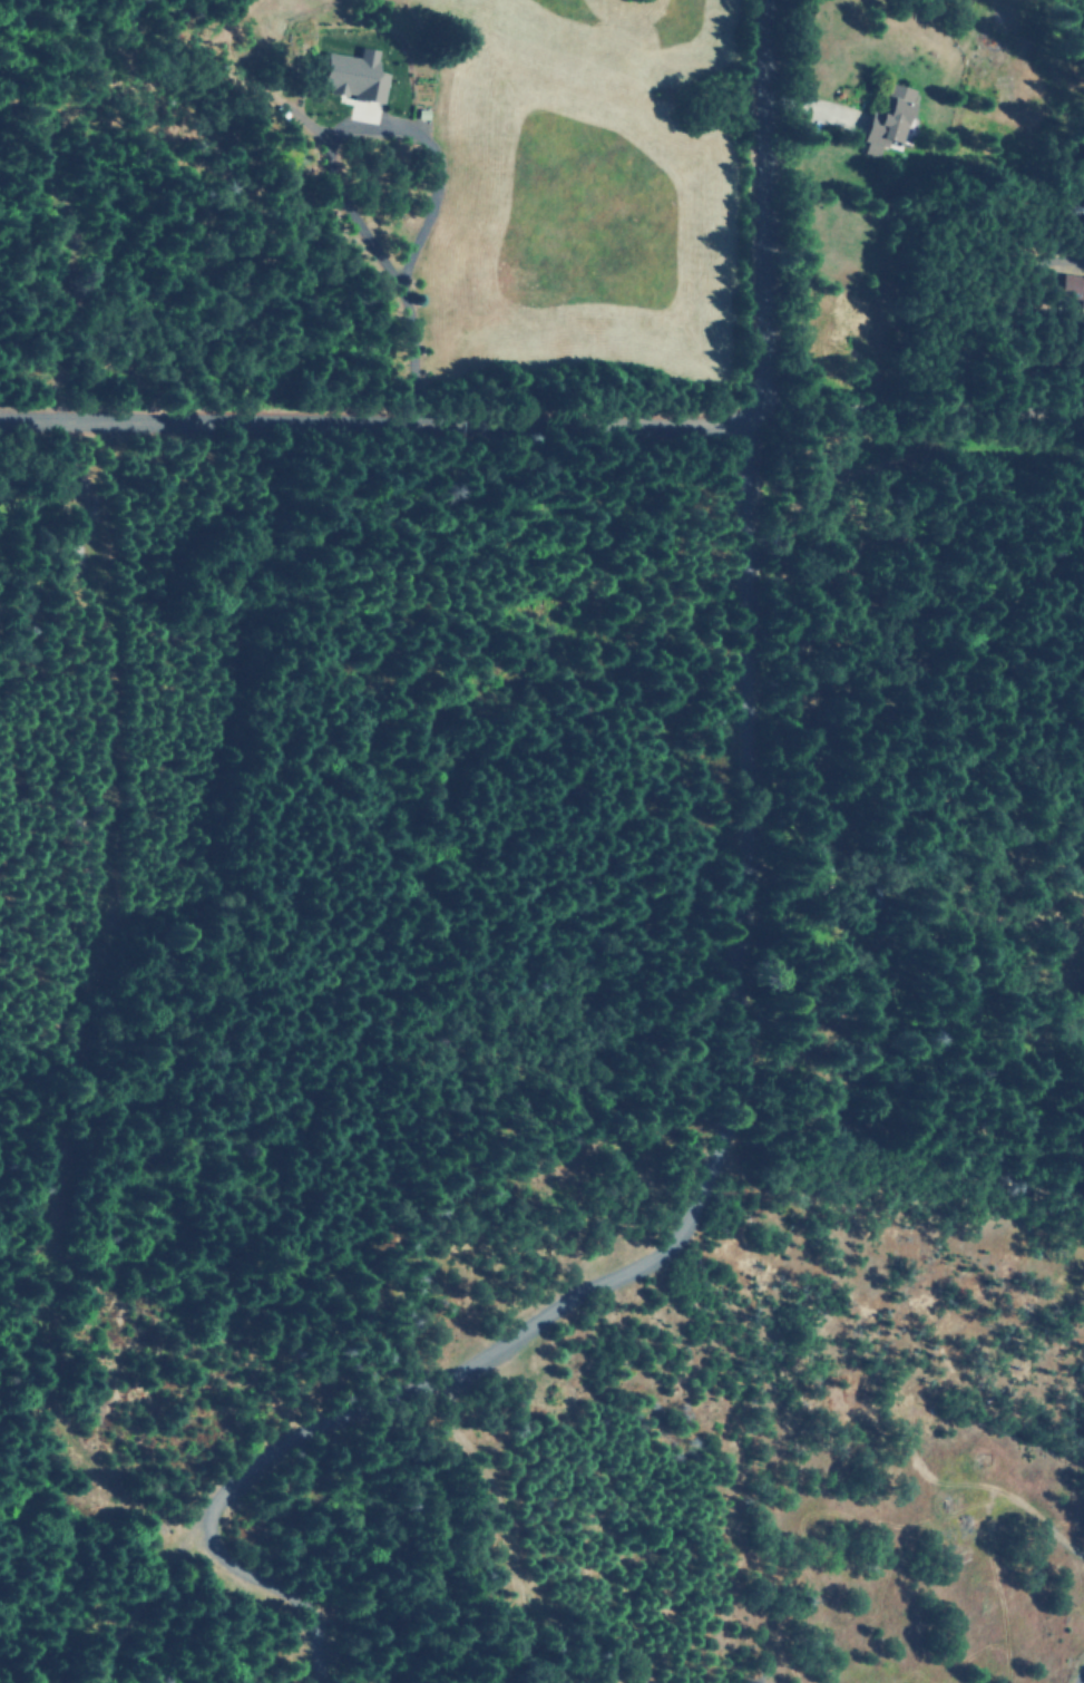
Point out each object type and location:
road: (920, 400)
road: (584, 412)

